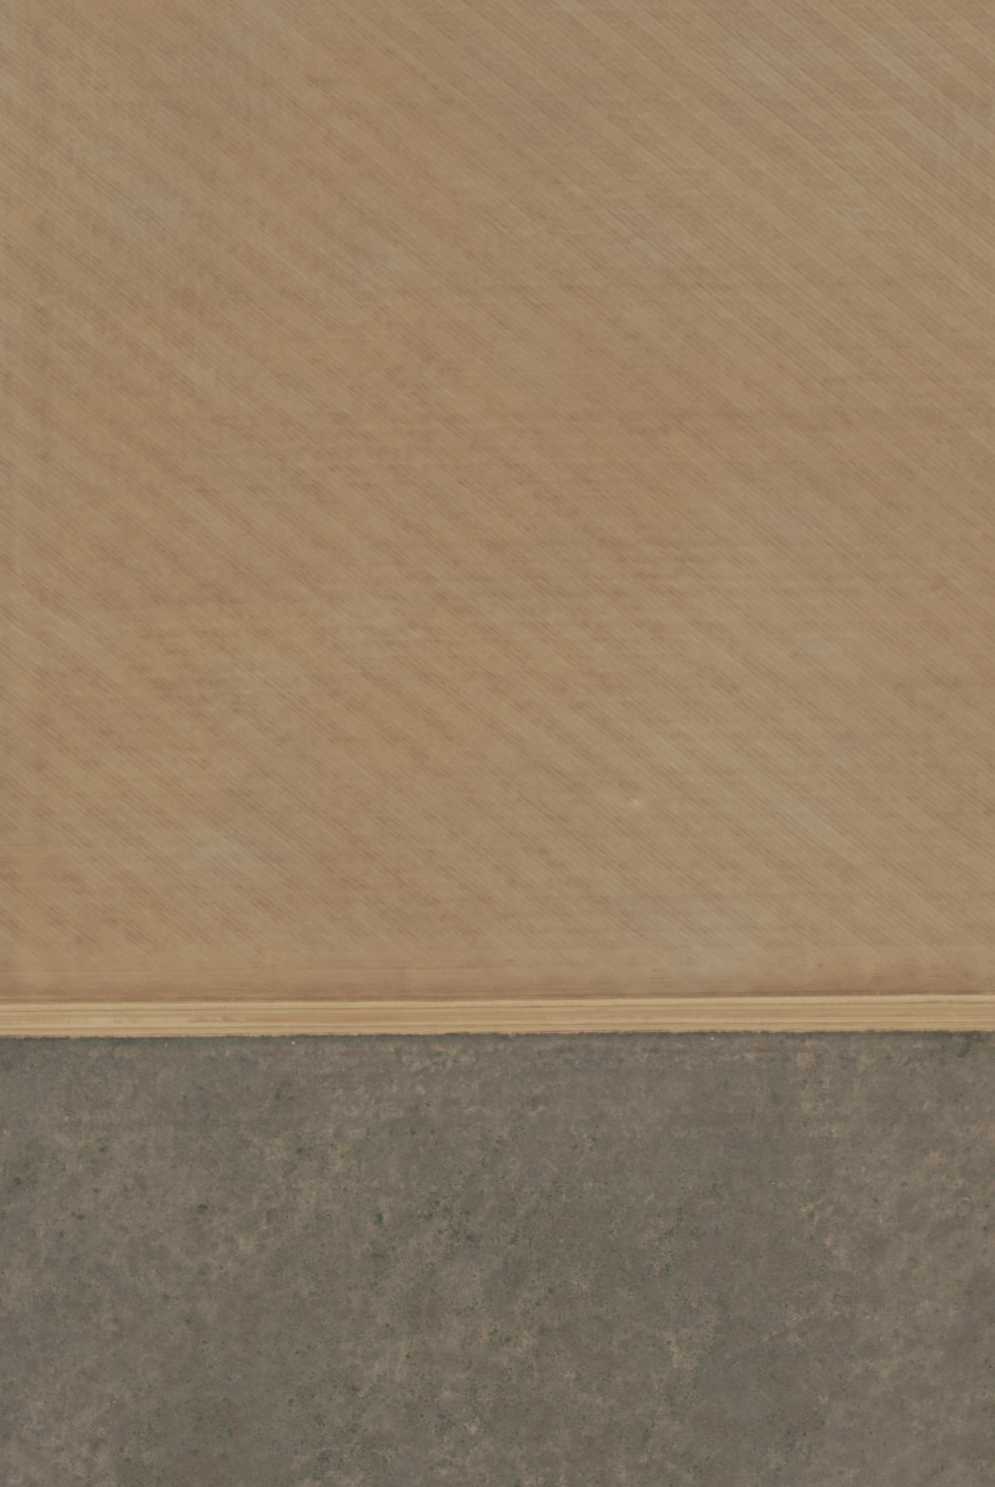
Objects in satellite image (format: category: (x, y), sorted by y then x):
road: (497, 1035)

